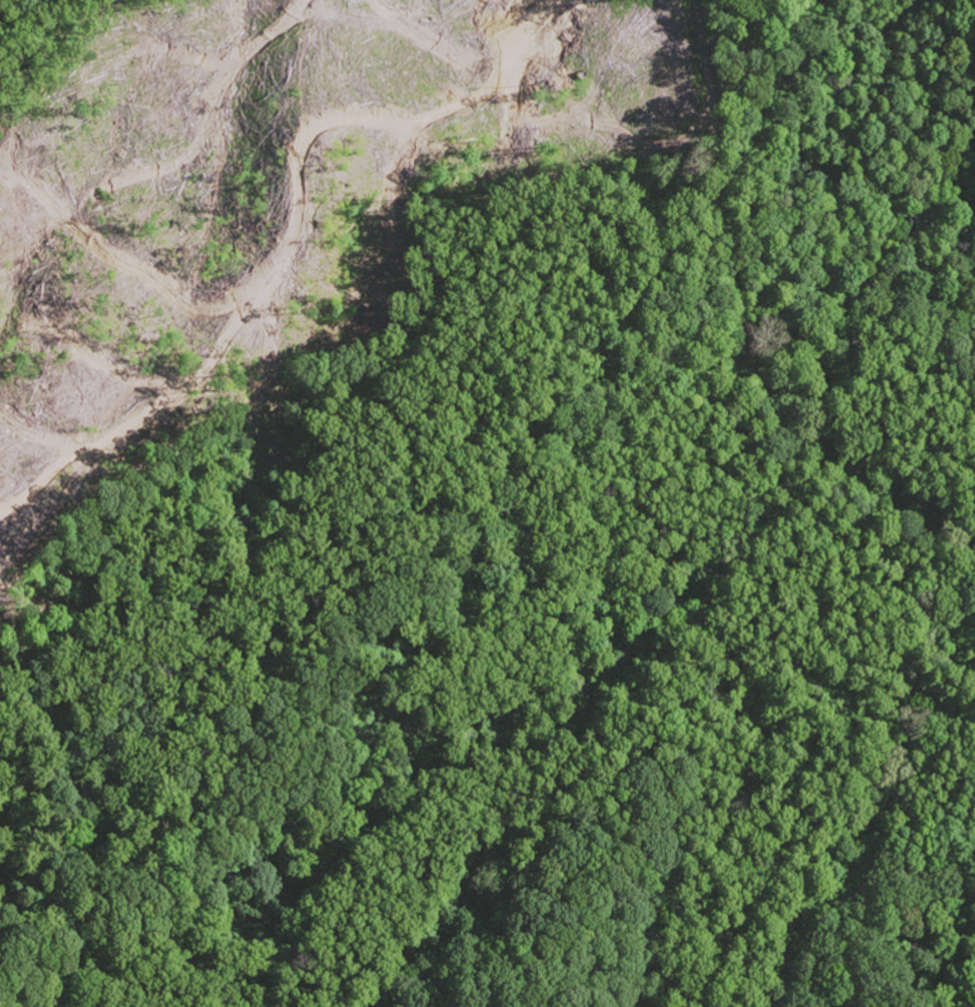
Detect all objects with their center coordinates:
road: (708, 356)

